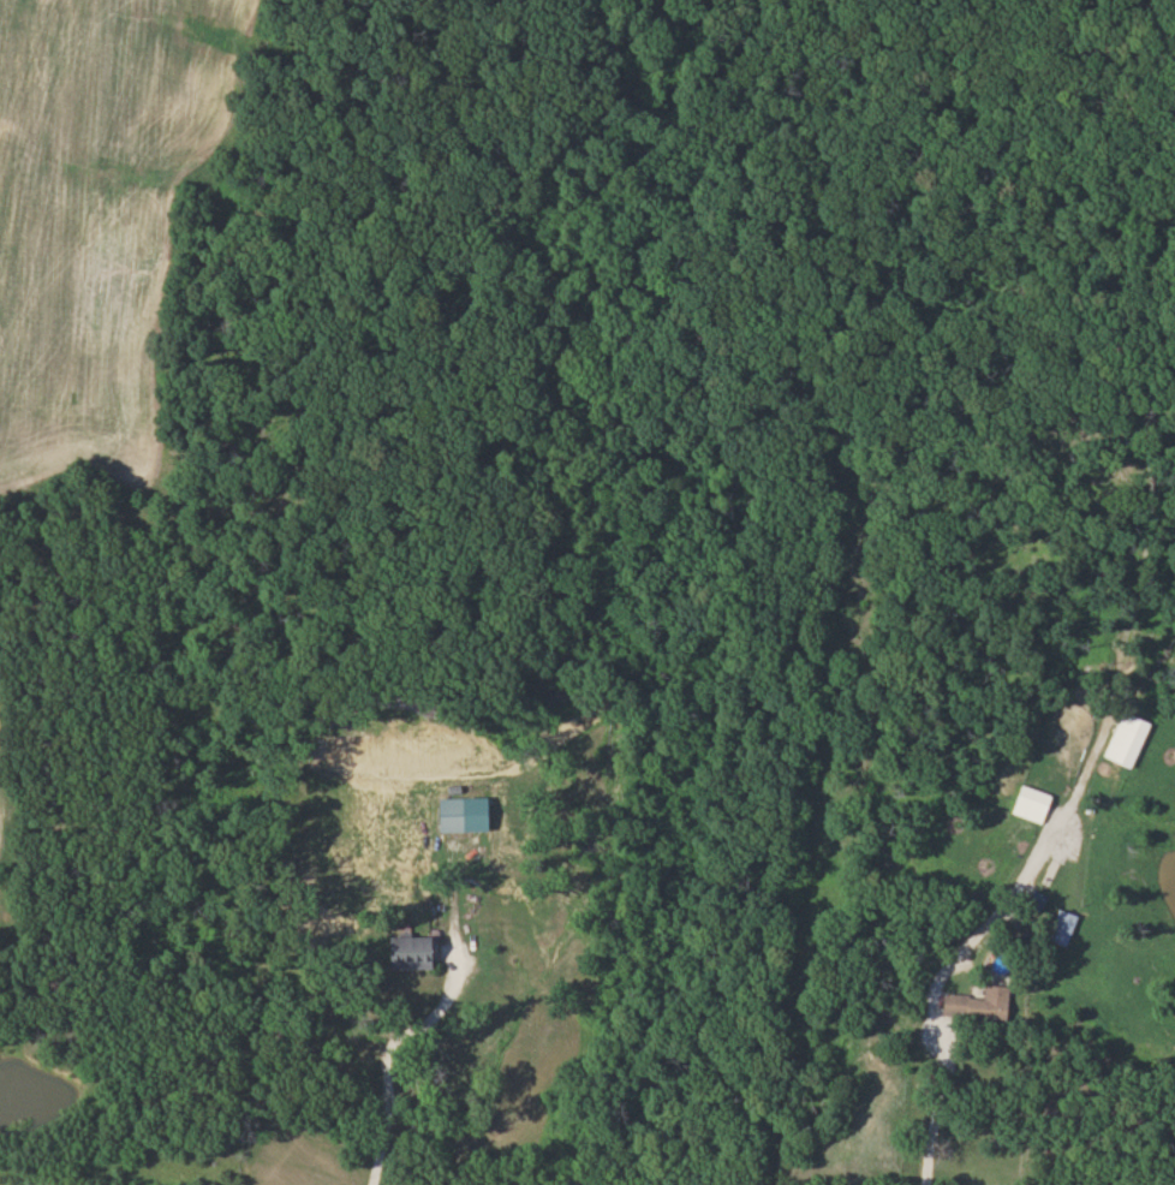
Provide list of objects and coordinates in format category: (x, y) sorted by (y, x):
building: (1131, 739)
building: (1036, 804)
building: (1066, 925)
building: (418, 953)
building: (983, 1005)
road: (413, 1025)

